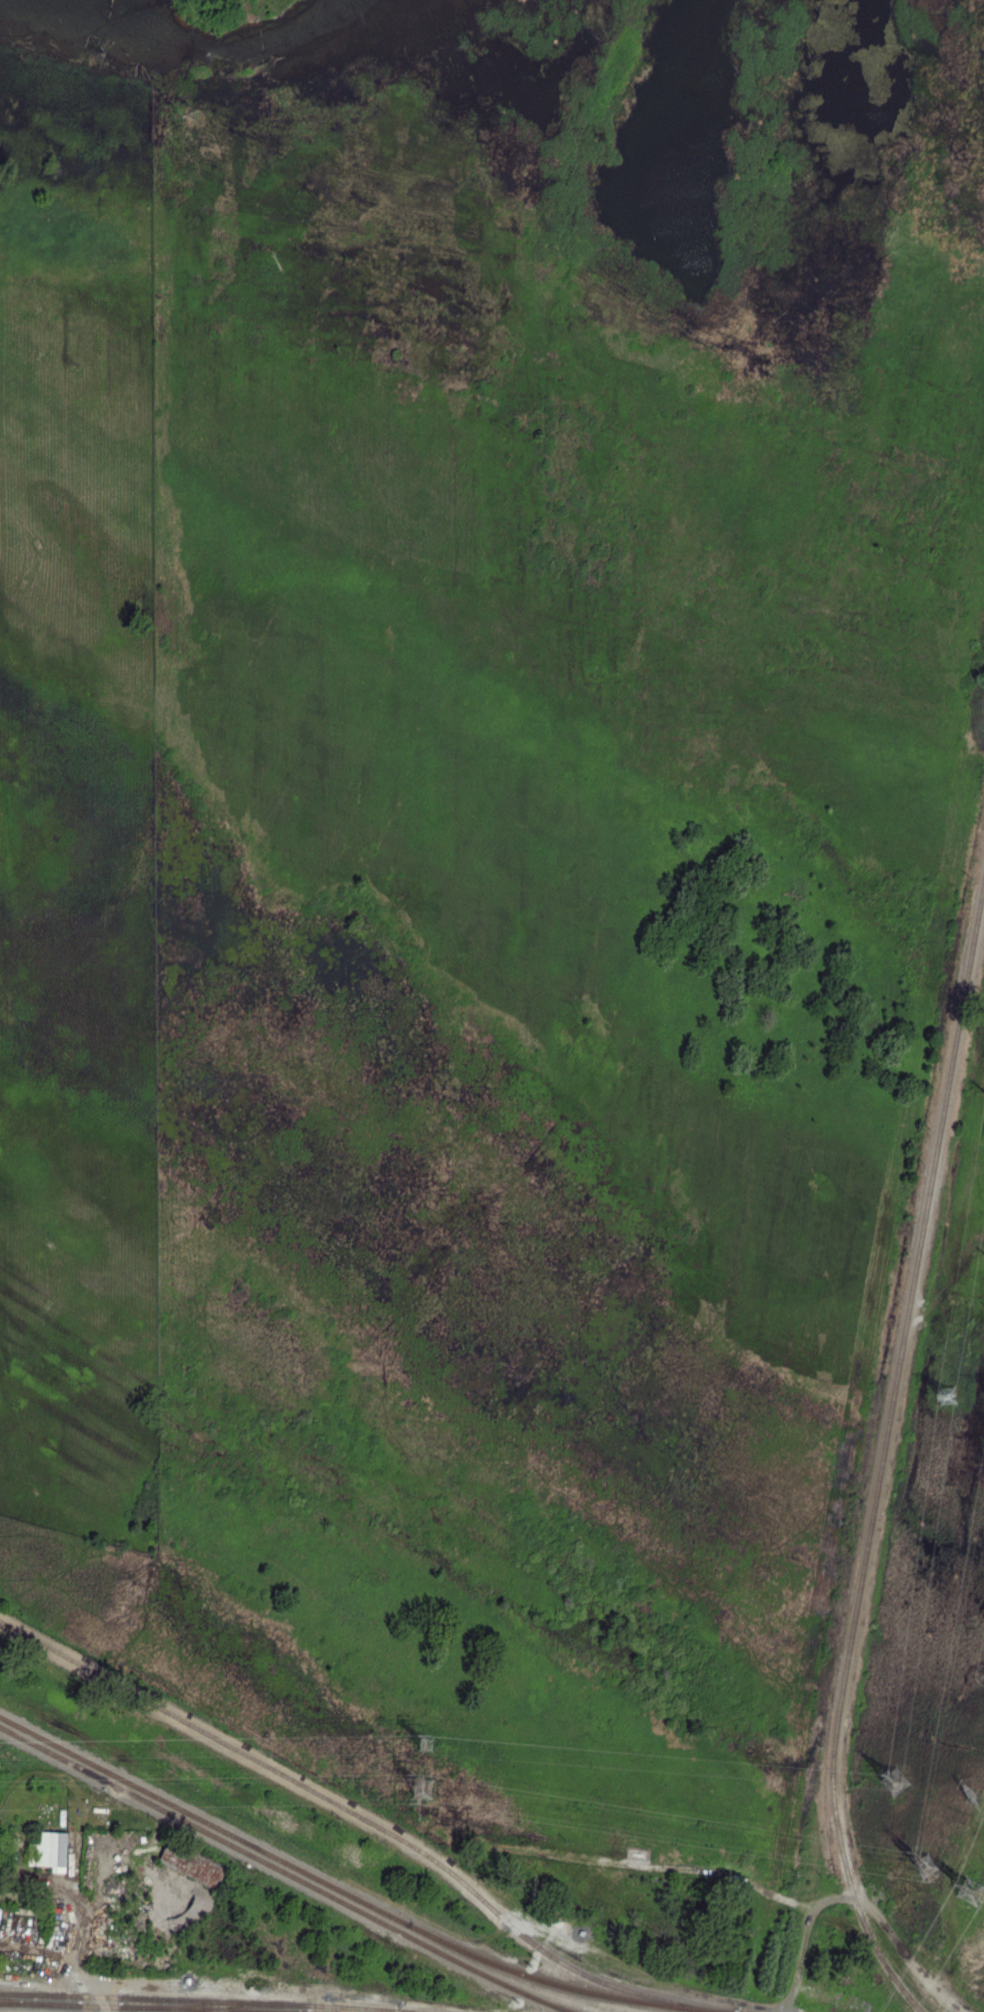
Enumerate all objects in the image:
road: (223, 15)
railway: (912, 1288)
power tower: (946, 1394)
railway: (195, 1726)
power tower: (428, 1748)
power tower: (896, 1785)
power tower: (966, 1793)
power tower: (432, 1794)
building: (52, 1849)
building: (192, 1863)
railway: (846, 1865)
power tower: (926, 1870)
railway: (285, 1872)
power tower: (971, 1891)
railway: (350, 1895)
railway: (543, 1950)
road: (75, 1951)
railway: (39, 2001)
railway: (206, 2001)
railway: (214, 2006)
railway: (133, 2007)
railway: (237, 2011)

